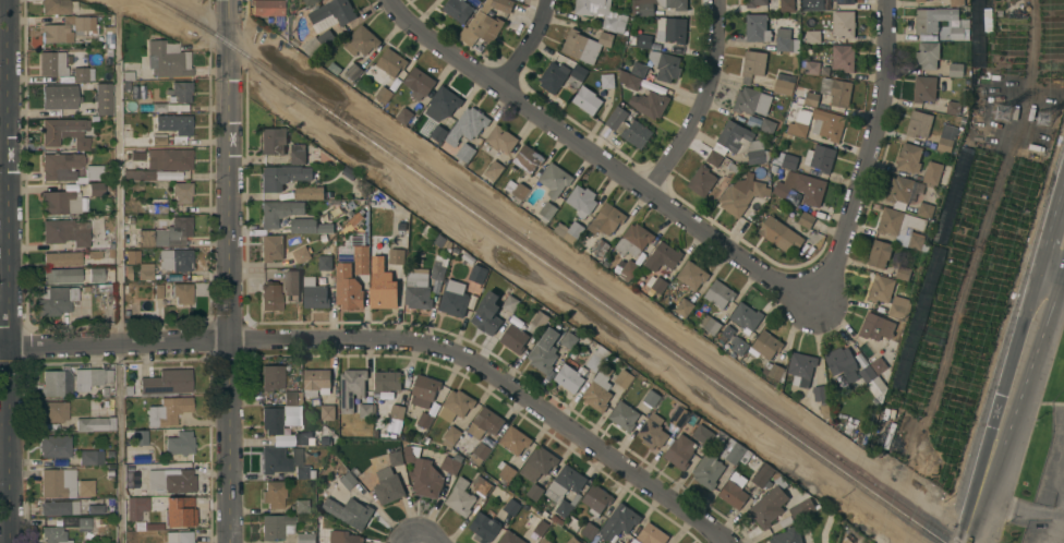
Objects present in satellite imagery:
building: (920, 0)
building: (928, 0)
building: (844, 1)
building: (311, 2)
building: (754, 2)
building: (956, 2)
building: (786, 5)
building: (812, 5)
building: (58, 7)
building: (267, 8)
building: (458, 9)
building: (642, 9)
building: (332, 13)
building: (602, 13)
building: (932, 19)
building: (987, 19)
building: (485, 22)
building: (844, 23)
building: (68, 28)
building: (757, 28)
building: (672, 29)
building: (957, 33)
building: (109, 37)
building: (812, 37)
building: (632, 39)
building: (361, 40)
building: (644, 40)
building: (785, 40)
building: (318, 43)
building: (585, 45)
building: (332, 46)
road: (529, 46)
building: (108, 52)
building: (928, 55)
building: (843, 58)
building: (168, 59)
road: (1031, 59)
building: (390, 62)
building: (52, 63)
building: (665, 64)
building: (752, 65)
building: (810, 67)
building: (334, 68)
building: (639, 70)
building: (956, 70)
building: (353, 71)
building: (825, 71)
building: (83, 74)
building: (128, 75)
building: (577, 75)
building: (554, 76)
building: (630, 80)
building: (607, 81)
building: (420, 83)
building: (783, 84)
building: (89, 85)
building: (126, 86)
building: (924, 88)
building: (180, 90)
building: (837, 92)
building: (965, 92)
building: (384, 94)
building: (797, 96)
building: (59, 97)
building: (102, 98)
building: (811, 99)
building: (446, 100)
building: (587, 100)
building: (751, 101)
road: (703, 102)
building: (650, 104)
building: (168, 107)
building: (953, 107)
power tower: (1056, 113)
building: (403, 116)
power tower: (1014, 117)
building: (919, 123)
building: (827, 124)
building: (174, 125)
building: (468, 125)
building: (767, 126)
building: (795, 126)
building: (59, 129)
building: (629, 129)
building: (438, 132)
building: (947, 137)
building: (158, 138)
building: (501, 138)
building: (774, 140)
building: (273, 141)
building: (82, 143)
building: (741, 143)
building: (126, 152)
building: (298, 154)
building: (464, 154)
road: (600, 156)
road: (869, 156)
building: (171, 158)
building: (528, 158)
building: (714, 158)
building: (820, 158)
building: (909, 158)
building: (787, 160)
building: (729, 165)
building: (69, 168)
building: (774, 168)
building: (494, 170)
building: (348, 172)
building: (932, 173)
building: (137, 174)
building: (282, 177)
building: (555, 180)
building: (702, 180)
building: (802, 188)
building: (96, 189)
building: (181, 191)
building: (517, 191)
building: (899, 191)
building: (310, 192)
building: (742, 194)
building: (329, 195)
building: (582, 201)
building: (61, 202)
building: (334, 202)
building: (157, 205)
building: (926, 210)
building: (278, 212)
building: (547, 213)
building: (331, 214)
building: (355, 219)
building: (607, 219)
building: (806, 219)
building: (130, 220)
building: (898, 221)
road: (1053, 221)
building: (310, 226)
building: (569, 230)
building: (63, 232)
building: (167, 233)
building: (781, 234)
building: (324, 238)
building: (439, 240)
building: (634, 240)
building: (916, 242)
building: (601, 246)
building: (271, 248)
building: (355, 252)
building: (302, 253)
building: (879, 253)
building: (94, 254)
road: (1057, 254)
building: (131, 256)
building: (396, 256)
building: (663, 256)
building: (62, 258)
building: (176, 260)
building: (934, 262)
building: (325, 263)
railway: (553, 267)
building: (439, 268)
building: (145, 270)
road: (228, 270)
building: (628, 270)
road: (7, 271)
building: (904, 273)
building: (477, 274)
building: (73, 275)
building: (688, 277)
road: (119, 278)
road: (1054, 279)
building: (291, 281)
building: (655, 285)
building: (85, 288)
building: (348, 288)
building: (418, 289)
building: (881, 289)
building: (158, 290)
building: (182, 292)
building: (315, 294)
building: (720, 294)
building: (270, 295)
building: (383, 298)
building: (455, 298)
building: (56, 300)
building: (510, 303)
building: (684, 306)
building: (899, 307)
railway: (630, 311)
building: (487, 313)
building: (173, 314)
building: (746, 317)
building: (540, 319)
building: (709, 324)
building: (878, 329)
building: (728, 331)
building: (513, 338)
building: (569, 339)
road: (394, 341)
building: (738, 345)
building: (765, 345)
road: (1024, 348)
building: (544, 351)
building: (597, 359)
building: (842, 363)
building: (882, 364)
building: (801, 367)
building: (775, 373)
building: (90, 377)
building: (271, 377)
building: (570, 377)
building: (624, 378)
building: (872, 381)
building: (56, 382)
building: (316, 382)
building: (166, 383)
building: (386, 383)
building: (351, 388)
building: (129, 389)
building: (598, 389)
building: (424, 390)
building: (105, 391)
building: (820, 393)
building: (292, 398)
building: (651, 398)
building: (316, 401)
building: (456, 406)
building: (365, 410)
building: (824, 410)
building: (55, 411)
building: (168, 411)
building: (397, 411)
building: (327, 412)
building: (624, 415)
building: (679, 415)
building: (271, 420)
building: (425, 420)
building: (90, 423)
building: (485, 423)
building: (112, 424)
building: (653, 432)
building: (703, 434)
building: (451, 436)
building: (138, 437)
building: (301, 438)
building: (516, 441)
building: (180, 443)
building: (55, 446)
building: (680, 451)
building: (735, 452)
building: (109, 454)
building: (480, 454)
building: (90, 457)
building: (396, 457)
building: (460, 458)
building: (279, 459)
building: (450, 464)
building: (758, 468)
building: (537, 469)
building: (709, 470)
building: (302, 471)
building: (506, 471)
building: (109, 472)
building: (354, 472)
building: (423, 475)
building: (348, 478)
building: (171, 480)
building: (58, 483)
building: (482, 485)
building: (84, 487)
building: (566, 488)
building: (389, 490)
road: (980, 490)
building: (274, 493)
building: (733, 494)
road: (1063, 496)
building: (461, 497)
building: (596, 499)
building: (136, 506)
building: (302, 506)
building: (60, 507)
building: (511, 507)
building: (769, 507)
building: (96, 508)
building: (801, 508)
building: (179, 511)
building: (349, 511)
road: (1047, 512)
building: (556, 519)
building: (100, 520)
building: (74, 522)
building: (619, 522)
building: (573, 523)
building: (276, 526)
building: (154, 527)
building: (484, 527)
building: (541, 528)
road: (1060, 529)
building: (589, 530)
building: (53, 534)
building: (652, 534)
building: (788, 535)
building: (179, 536)
building: (343, 536)
building: (305, 538)
building: (510, 538)
building: (572, 540)
building: (545, 541)
building: (87, 542)
building: (615, 542)

